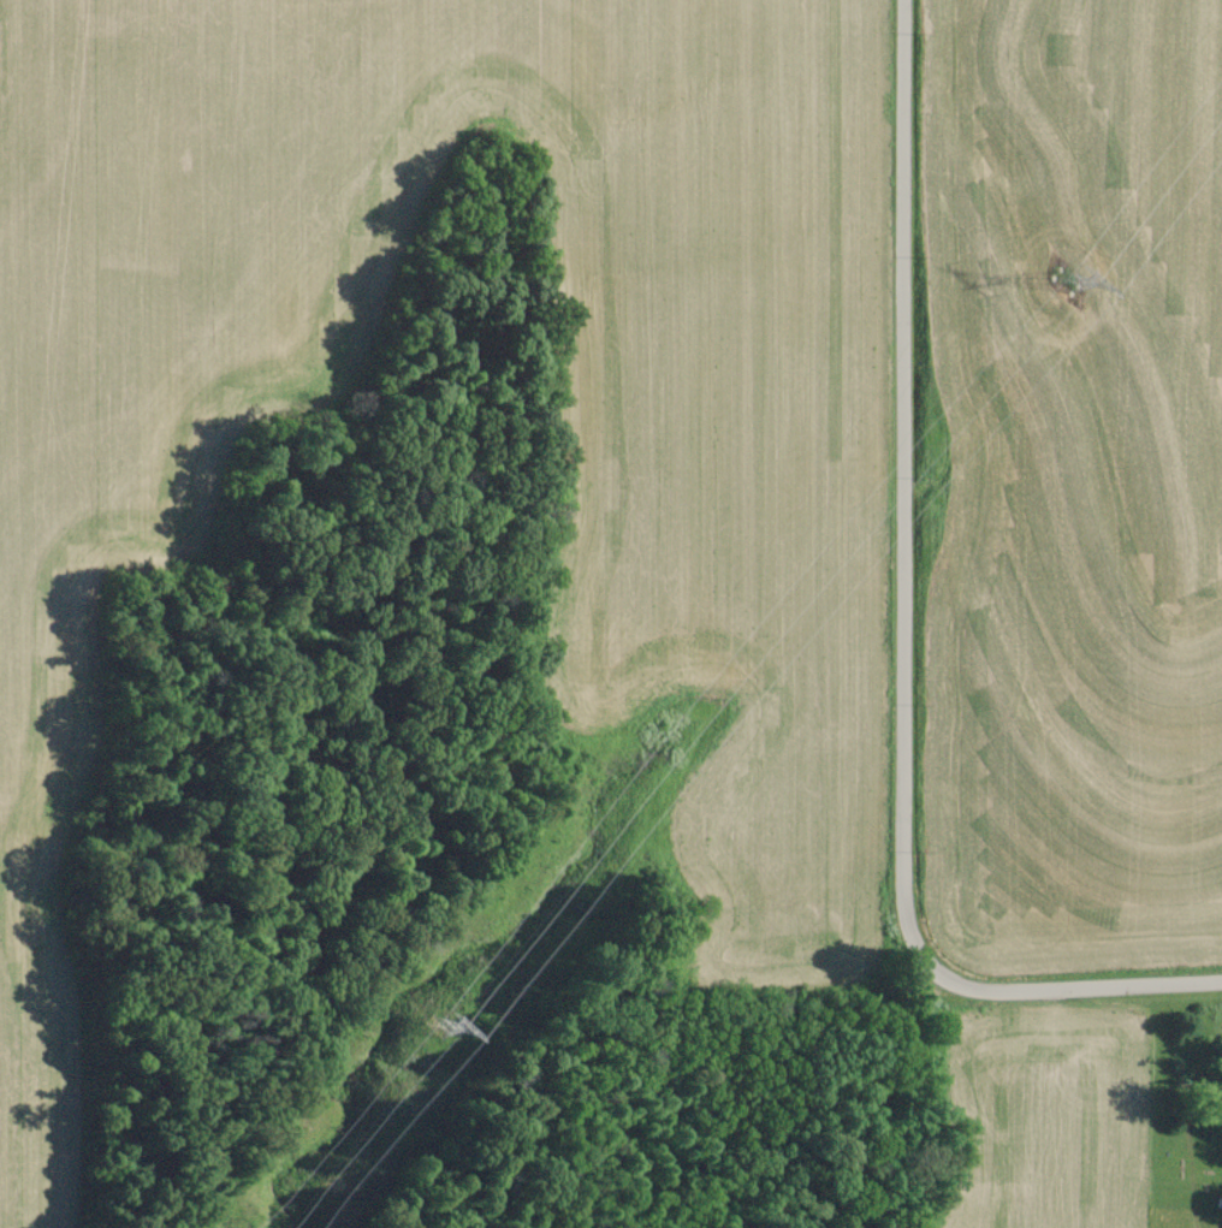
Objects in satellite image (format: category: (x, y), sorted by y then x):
power tower: (1064, 280)
road: (907, 636)
power tower: (437, 1028)

